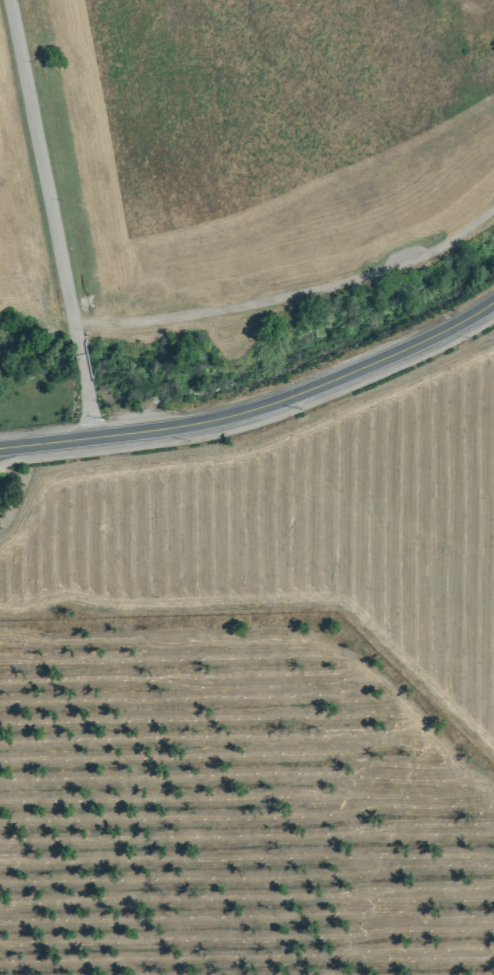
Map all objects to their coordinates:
road: (36, 156)
road: (290, 289)
road: (81, 369)
road: (257, 396)

